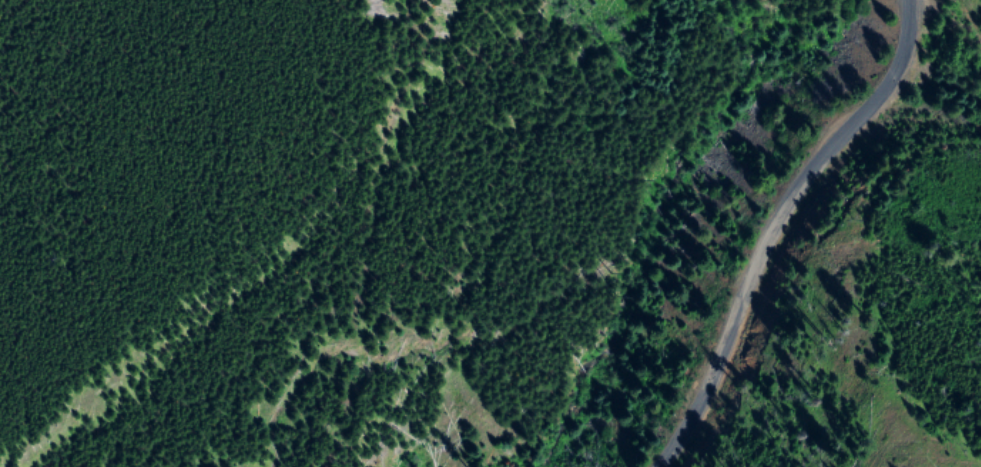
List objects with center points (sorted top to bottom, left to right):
road: (719, 223)

